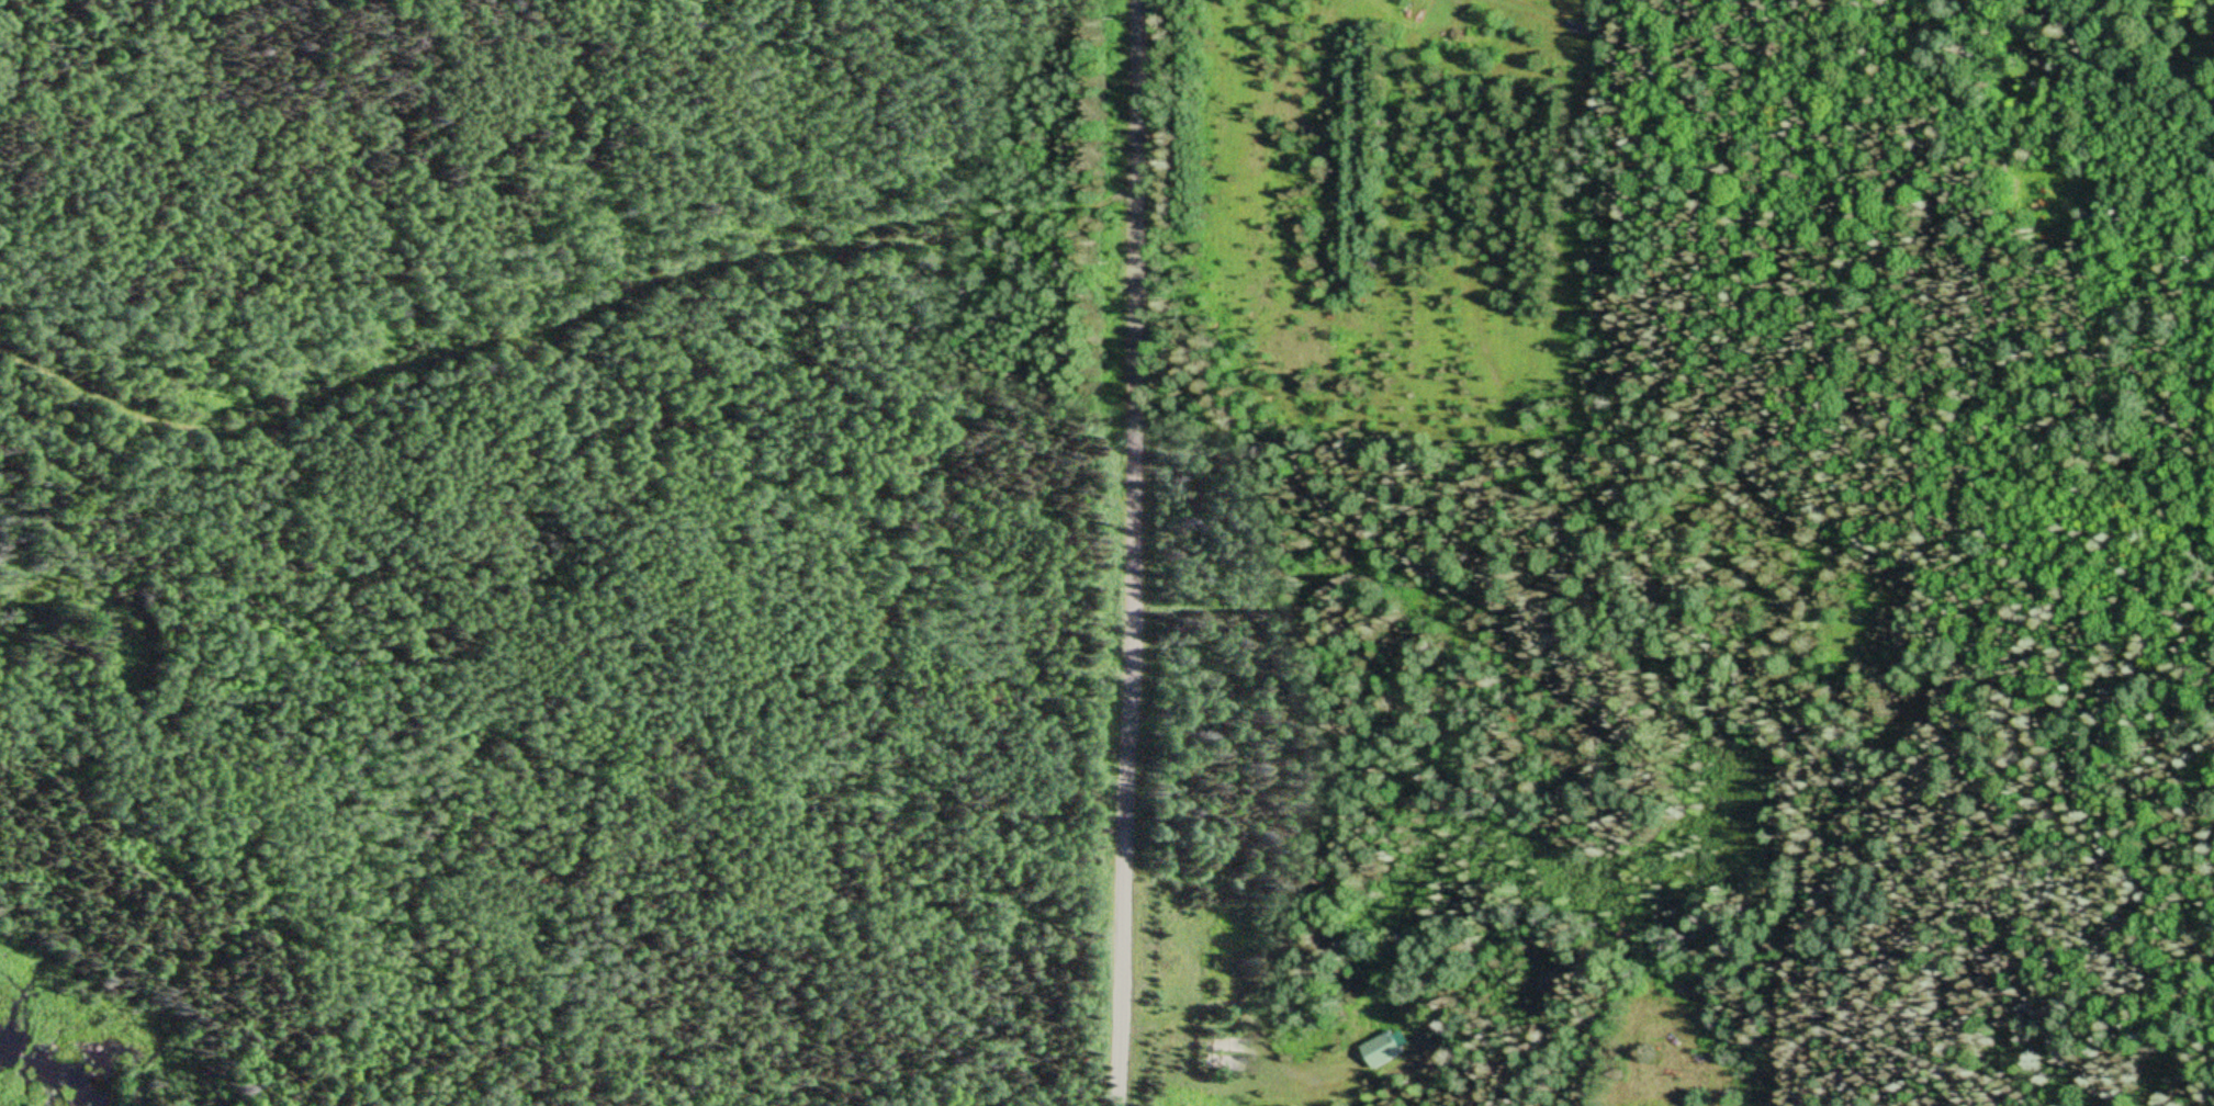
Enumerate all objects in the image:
road: (1133, 552)
road: (1679, 945)
building: (1389, 1050)
river: (63, 1053)

